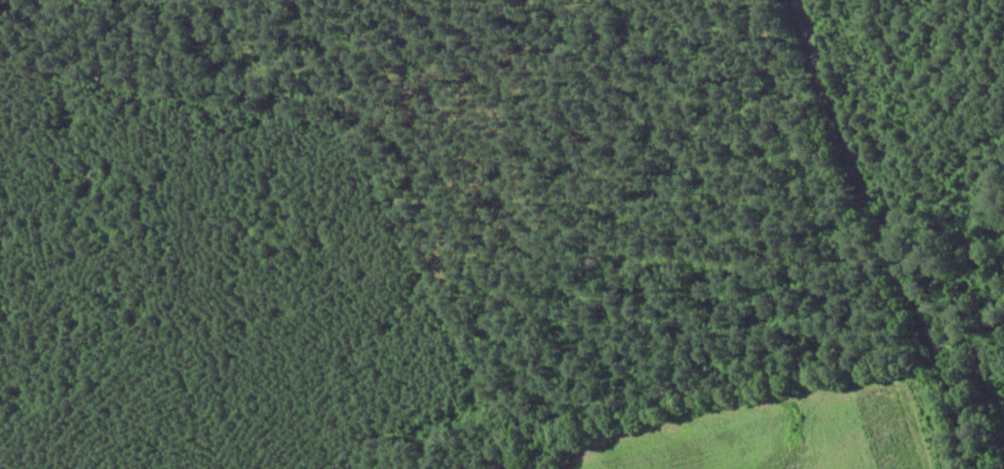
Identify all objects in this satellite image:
road: (870, 234)

